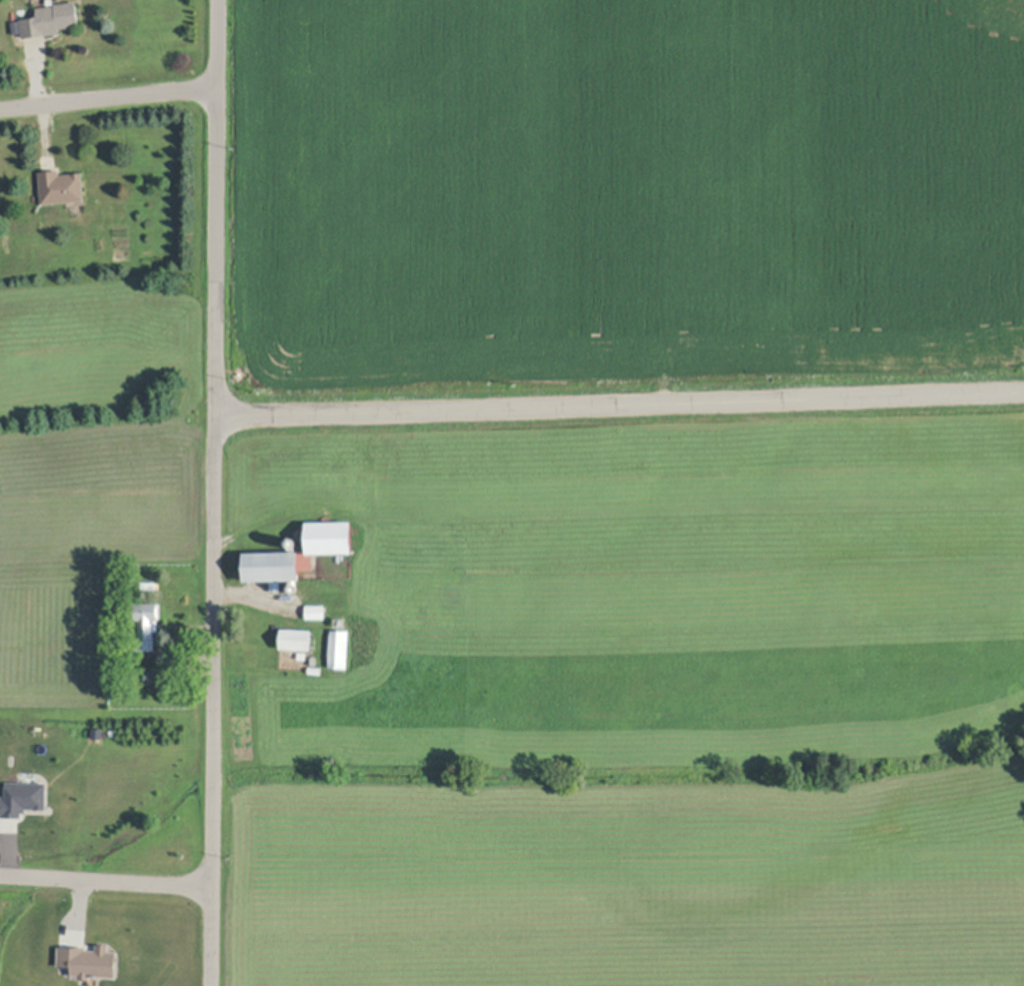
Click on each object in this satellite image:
building: (51, 18)
building: (17, 35)
road: (108, 94)
building: (61, 185)
road: (620, 401)
road: (216, 493)
building: (291, 540)
building: (299, 551)
building: (293, 586)
building: (315, 610)
building: (340, 621)
building: (146, 622)
building: (296, 637)
building: (339, 647)
building: (167, 659)
building: (315, 669)
building: (25, 799)
road: (106, 882)
building: (93, 962)

